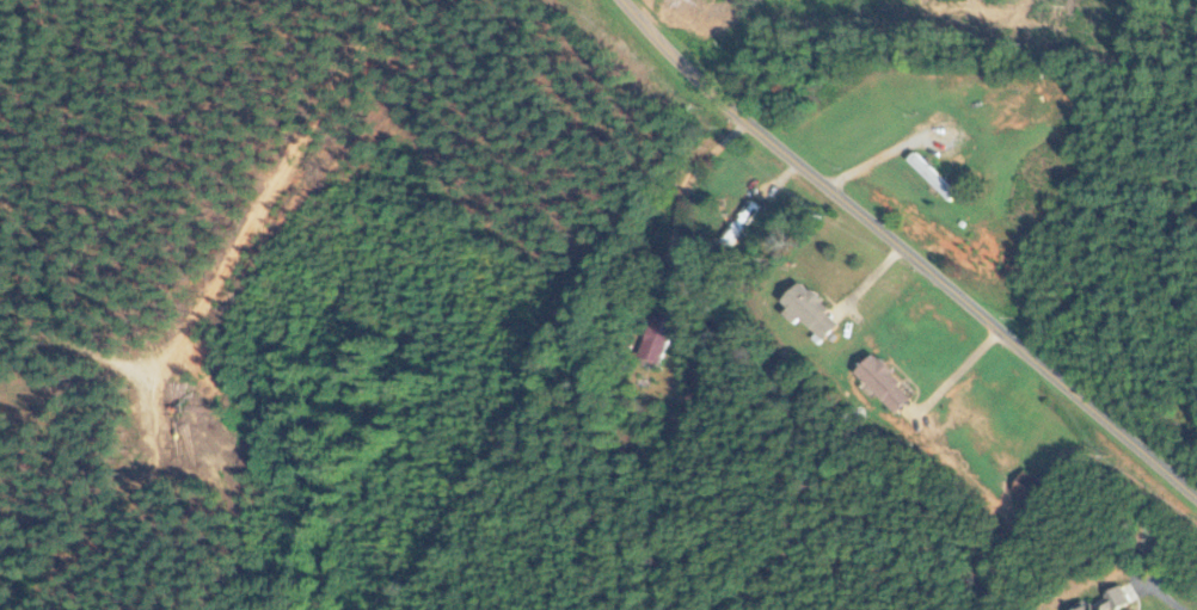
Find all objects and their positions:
building: (931, 177)
road: (902, 254)
building: (810, 310)
building: (653, 338)
building: (884, 382)
building: (1029, 486)
road: (843, 488)
road: (1130, 553)
road: (1168, 600)

